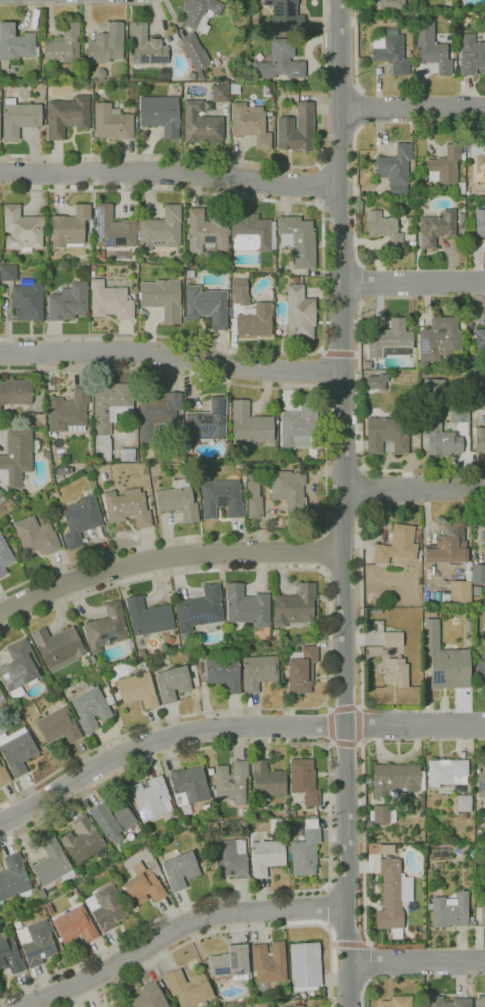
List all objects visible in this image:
road: (77, 3)
building: (391, 4)
building: (200, 13)
building: (285, 15)
building: (449, 19)
building: (15, 44)
road: (357, 44)
building: (63, 45)
building: (106, 45)
building: (146, 46)
building: (431, 48)
building: (194, 51)
building: (391, 52)
building: (471, 55)
building: (280, 62)
building: (100, 76)
building: (85, 79)
building: (140, 84)
building: (87, 86)
building: (220, 93)
building: (207, 106)
road: (360, 107)
road: (412, 110)
building: (160, 114)
building: (269, 114)
building: (67, 116)
building: (19, 118)
building: (112, 122)
building: (201, 124)
building: (250, 124)
building: (296, 129)
building: (478, 160)
road: (242, 161)
building: (446, 165)
building: (395, 170)
road: (170, 173)
building: (468, 173)
road: (320, 184)
building: (428, 186)
building: (461, 188)
road: (355, 202)
building: (185, 206)
building: (461, 218)
building: (480, 223)
building: (69, 227)
building: (384, 228)
building: (436, 228)
building: (21, 229)
building: (113, 229)
building: (161, 229)
building: (205, 233)
building: (252, 233)
building: (298, 240)
building: (411, 244)
building: (180, 260)
building: (225, 266)
building: (231, 267)
building: (92, 270)
building: (8, 273)
road: (323, 278)
building: (295, 280)
road: (362, 283)
road: (413, 284)
building: (239, 292)
building: (162, 298)
building: (110, 301)
building: (28, 302)
building: (68, 302)
building: (136, 304)
building: (206, 306)
building: (299, 314)
building: (254, 320)
building: (440, 339)
building: (390, 340)
building: (480, 340)
road: (337, 354)
road: (171, 357)
building: (469, 363)
building: (366, 365)
building: (376, 382)
building: (15, 392)
building: (478, 400)
building: (68, 411)
building: (109, 413)
building: (156, 413)
road: (357, 414)
building: (458, 414)
building: (34, 420)
building: (207, 422)
building: (249, 426)
building: (298, 426)
building: (386, 435)
building: (480, 439)
building: (443, 443)
building: (187, 449)
building: (174, 452)
building: (47, 455)
building: (127, 455)
building: (17, 457)
building: (200, 460)
building: (226, 461)
road: (325, 466)
road: (473, 469)
building: (62, 471)
road: (362, 488)
building: (288, 489)
road: (414, 489)
building: (0, 493)
building: (253, 494)
building: (221, 498)
building: (178, 501)
road: (343, 503)
building: (127, 507)
building: (80, 520)
building: (35, 536)
building: (418, 536)
building: (484, 536)
building: (396, 545)
building: (449, 548)
road: (323, 550)
building: (4, 557)
road: (167, 562)
building: (478, 574)
building: (476, 590)
building: (457, 594)
building: (437, 598)
building: (482, 602)
building: (247, 606)
building: (294, 606)
building: (200, 609)
building: (430, 613)
building: (147, 616)
building: (106, 628)
building: (275, 635)
building: (169, 639)
building: (392, 639)
road: (325, 643)
building: (58, 647)
road: (359, 648)
building: (141, 653)
building: (93, 659)
building: (445, 661)
building: (480, 665)
building: (19, 666)
building: (301, 670)
building: (258, 672)
building: (396, 672)
building: (223, 673)
building: (172, 683)
building: (138, 690)
road: (427, 690)
building: (108, 697)
building: (2, 698)
road: (444, 699)
building: (90, 708)
road: (340, 709)
road: (359, 724)
building: (58, 726)
road: (414, 726)
road: (331, 730)
road: (163, 742)
road: (347, 744)
building: (17, 750)
building: (210, 772)
building: (447, 772)
building: (4, 777)
building: (480, 779)
building: (395, 780)
building: (267, 781)
building: (304, 781)
building: (232, 782)
road: (363, 783)
building: (212, 787)
building: (188, 788)
building: (458, 789)
building: (151, 799)
building: (300, 800)
building: (420, 803)
building: (464, 805)
building: (204, 807)
building: (285, 808)
building: (291, 814)
building: (379, 816)
road: (329, 817)
building: (218, 818)
building: (111, 819)
building: (295, 832)
building: (83, 841)
building: (207, 847)
building: (387, 849)
building: (305, 850)
building: (266, 857)
building: (230, 859)
building: (52, 864)
building: (180, 870)
building: (13, 877)
building: (145, 885)
building: (390, 895)
building: (106, 908)
road: (327, 908)
building: (449, 910)
building: (481, 912)
building: (74, 925)
road: (173, 931)
road: (229, 931)
building: (36, 942)
road: (350, 944)
building: (10, 956)
road: (369, 962)
road: (418, 962)
building: (230, 963)
building: (269, 963)
building: (305, 966)
road: (367, 983)
building: (188, 988)
building: (149, 997)
building: (396, 1002)
building: (448, 1002)
building: (482, 1002)
building: (123, 1006)
building: (127, 1006)
building: (297, 1006)

